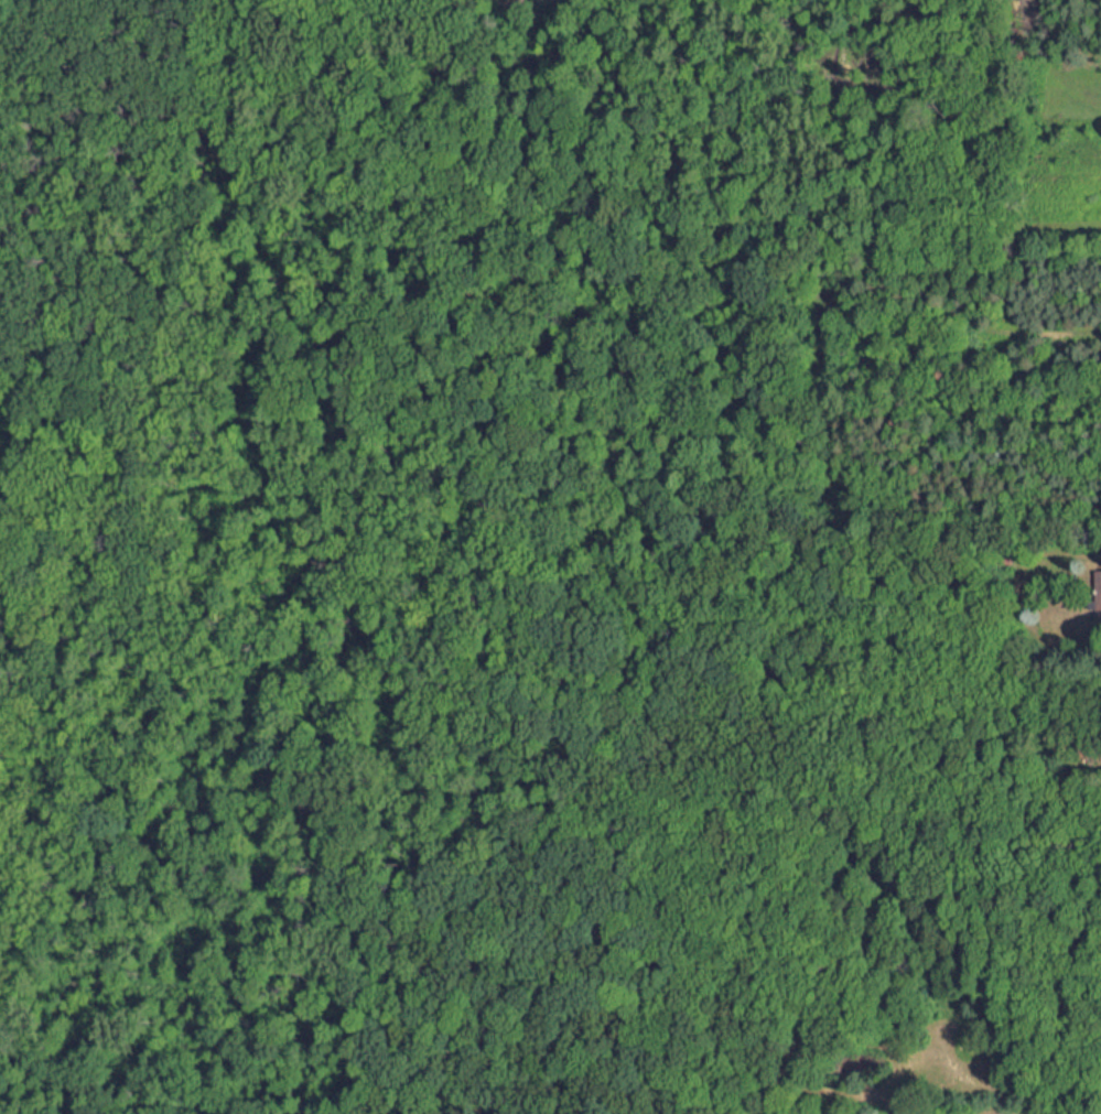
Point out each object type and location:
building: (1097, 577)

